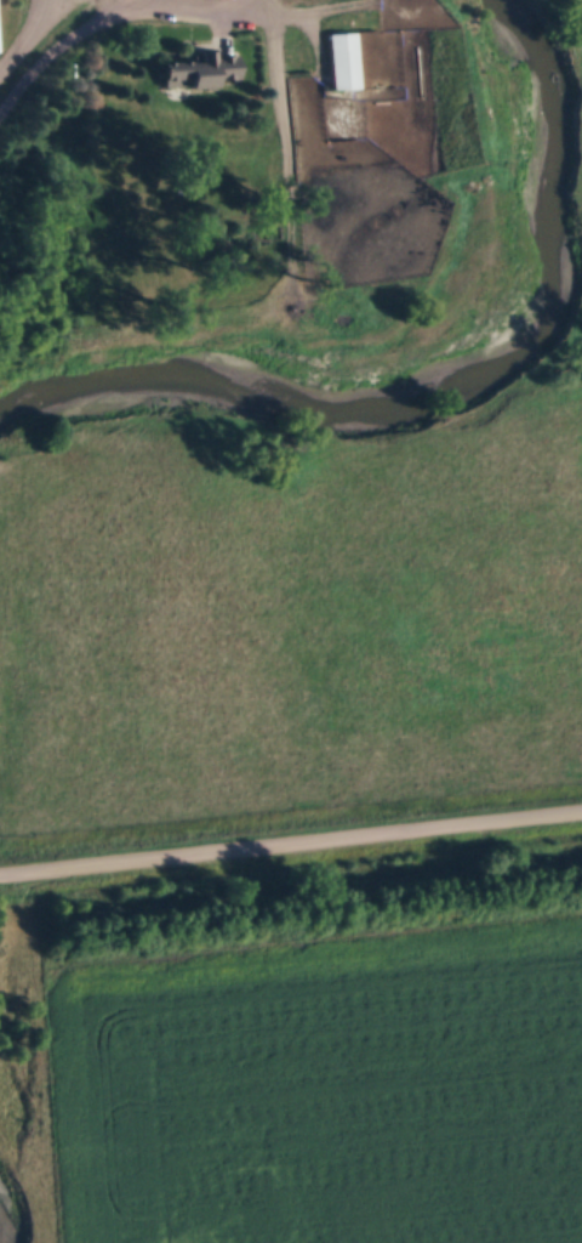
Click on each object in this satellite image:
road: (195, 13)
road: (21, 29)
building: (342, 63)
building: (198, 73)
road: (290, 839)

